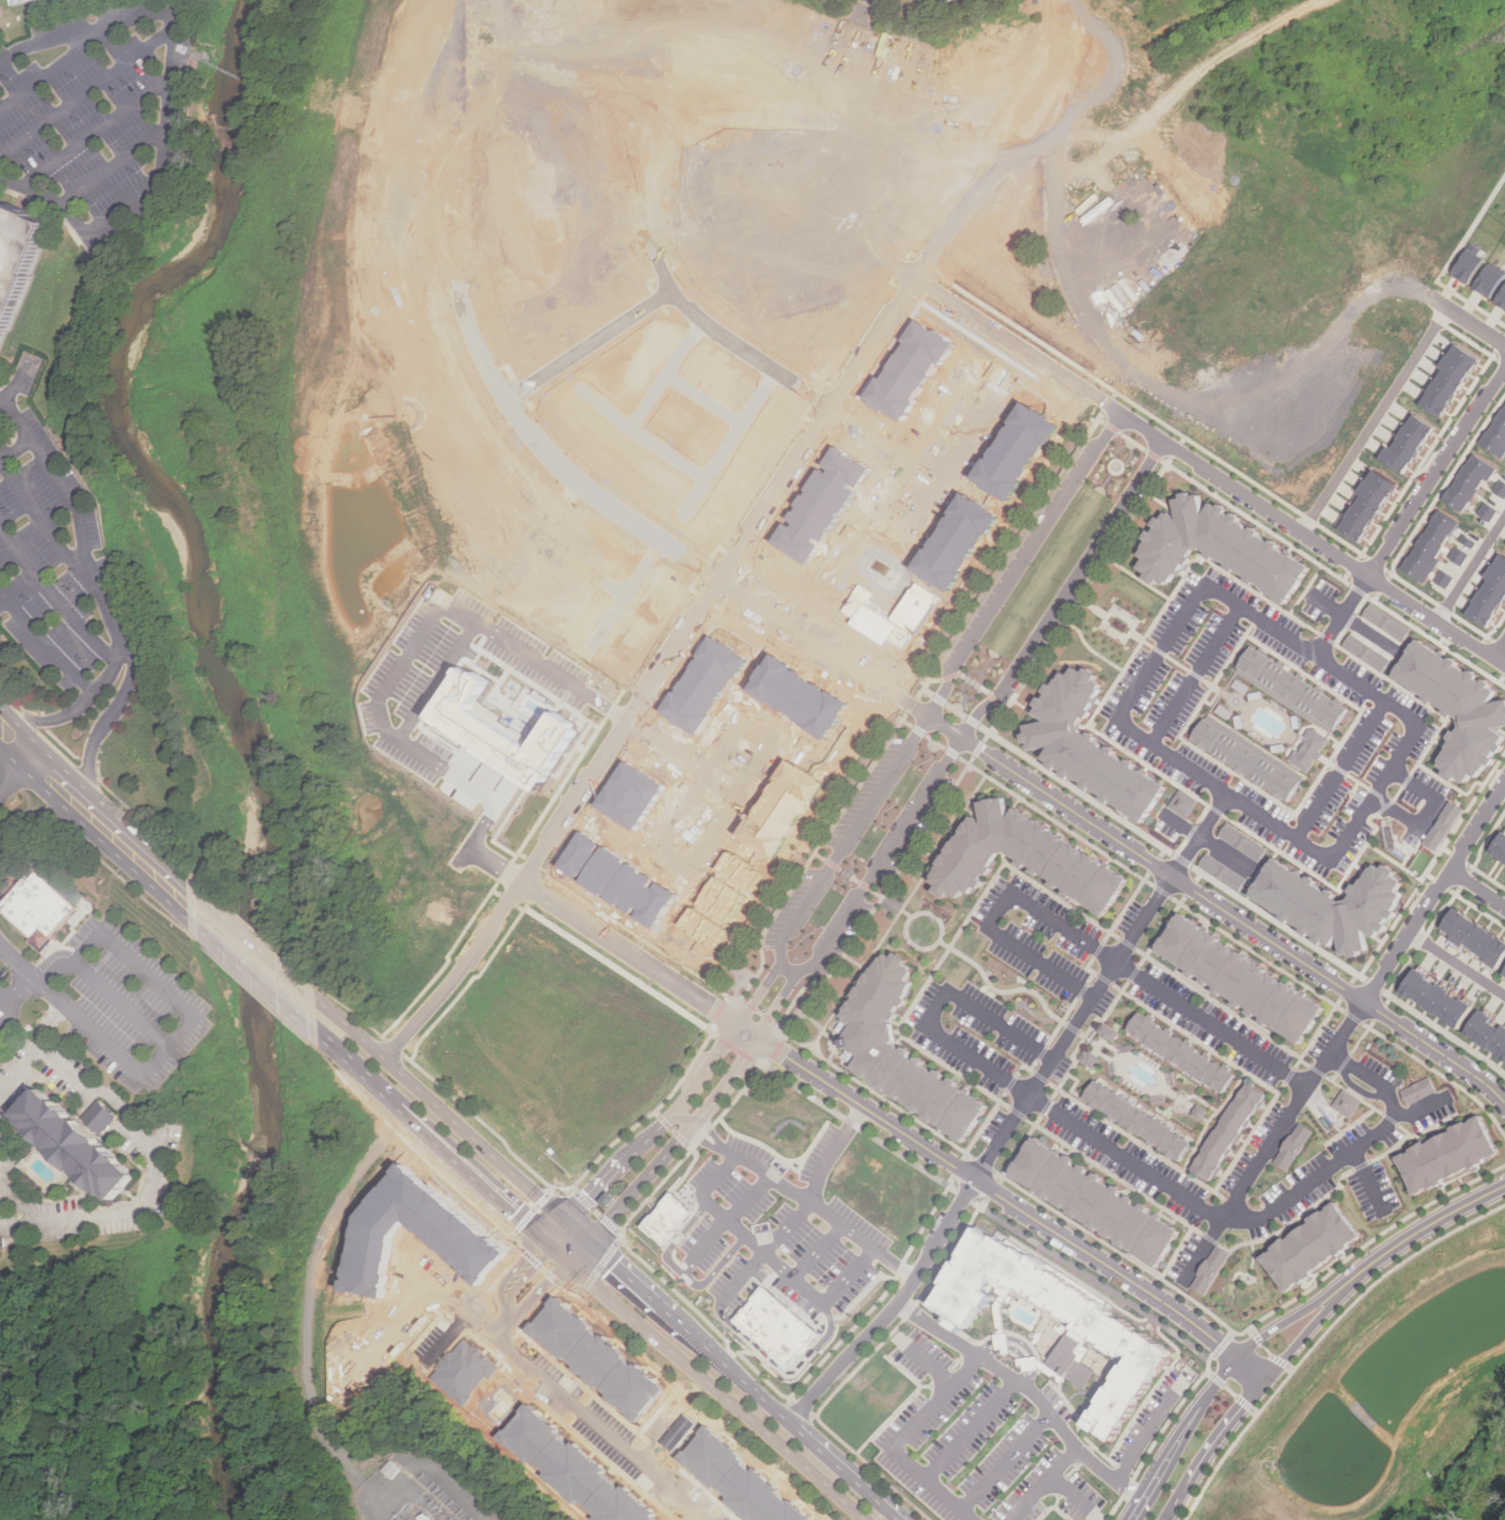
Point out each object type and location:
building: (20, 2)
parking garage: (20, 2)
road: (1065, 10)
road: (61, 37)
road: (87, 92)
road: (176, 99)
road: (100, 126)
road: (119, 162)
river: (217, 201)
road: (1466, 238)
building: (15, 251)
building: (1470, 264)
building: (1491, 280)
building: (1502, 299)
road: (1466, 324)
road: (544, 368)
building: (912, 369)
building: (1452, 379)
road: (1373, 422)
building: (1497, 436)
building: (1411, 443)
road: (17, 448)
road: (1177, 451)
road: (1157, 457)
road: (1180, 472)
road: (1435, 473)
road: (1214, 476)
building: (1471, 483)
building: (1501, 487)
building: (824, 505)
building: (1370, 507)
building: (1490, 511)
road: (43, 520)
road: (83, 523)
building: (1471, 541)
building: (1434, 545)
building: (1220, 548)
building: (1461, 555)
road: (1022, 563)
road: (1470, 567)
road: (1352, 568)
building: (1446, 579)
road: (1358, 588)
road: (1307, 589)
road: (1067, 593)
road: (53, 594)
building: (1491, 599)
road: (1285, 608)
road: (1119, 611)
building: (869, 614)
road: (1342, 614)
building: (1387, 622)
road: (1114, 630)
river: (191, 639)
road: (48, 640)
road: (1049, 644)
road: (1309, 645)
road: (1090, 648)
road: (1499, 649)
road: (825, 653)
building: (1367, 653)
road: (1184, 663)
road: (1198, 669)
road: (395, 671)
road: (1308, 675)
road: (660, 677)
road: (437, 681)
building: (1293, 690)
road: (995, 703)
road: (75, 708)
building: (1459, 708)
road: (972, 720)
building: (498, 722)
road: (946, 726)
road: (100, 728)
road: (1115, 742)
road: (981, 746)
building: (1090, 747)
building: (1310, 751)
building: (1247, 760)
road: (1344, 764)
road: (39, 766)
road: (1423, 768)
building: (492, 771)
road: (11, 774)
road: (1248, 782)
road: (1448, 783)
road: (737, 786)
road: (1086, 795)
road: (1374, 795)
building: (1184, 803)
road: (84, 806)
road: (1218, 810)
road: (38, 814)
road: (1433, 814)
building: (1443, 825)
road: (1193, 829)
road: (851, 838)
road: (1205, 841)
building: (1243, 842)
road: (125, 845)
building: (1501, 848)
road: (883, 858)
building: (1028, 858)
road: (1157, 860)
road: (1184, 860)
road: (1163, 870)
building: (1223, 872)
road: (1174, 875)
building: (619, 879)
road: (1478, 887)
road: (873, 891)
road: (187, 892)
building: (76, 894)
road: (1434, 896)
road: (515, 902)
road: (179, 903)
building: (1332, 905)
road: (522, 906)
building: (36, 907)
road: (1047, 918)
road: (907, 934)
building: (1476, 937)
road: (270, 954)
road: (1042, 961)
road: (1457, 964)
road: (21, 966)
road: (791, 969)
road: (621, 971)
road: (254, 976)
building: (1243, 979)
road: (1006, 991)
road: (16, 994)
building: (1439, 999)
road: (123, 1003)
road: (195, 1019)
river: (242, 1023)
road: (1212, 1024)
road: (1000, 1025)
road: (748, 1032)
building: (1109, 1032)
building: (1489, 1032)
road: (737, 1046)
building: (901, 1050)
road: (1436, 1051)
building: (1183, 1052)
road: (42, 1053)
building: (1091, 1059)
road: (1046, 1069)
road: (71, 1079)
building: (1418, 1090)
road: (685, 1101)
building: (1347, 1103)
road: (1422, 1106)
road: (703, 1115)
road: (105, 1116)
road: (686, 1118)
building: (1139, 1119)
road: (459, 1125)
road: (857, 1125)
road: (714, 1129)
building: (1228, 1131)
road: (705, 1139)
road: (445, 1140)
road: (1269, 1142)
building: (84, 1145)
building: (1294, 1146)
building: (1448, 1155)
road: (1368, 1183)
road: (1182, 1195)
road: (964, 1196)
building: (610, 1199)
building: (1094, 1200)
road: (819, 1209)
road: (805, 1210)
road: (128, 1211)
road: (732, 1218)
building: (670, 1219)
traffic signals: (569, 1223)
road: (1415, 1234)
traffic signals: (591, 1243)
traffic signals: (557, 1245)
building: (1310, 1246)
road: (821, 1253)
road: (773, 1255)
traffic signals: (572, 1260)
building: (1208, 1269)
road: (690, 1270)
road: (683, 1272)
road: (1122, 1276)
road: (1089, 1278)
road: (635, 1284)
road: (315, 1288)
road: (523, 1298)
road: (892, 1307)
road: (509, 1315)
road: (995, 1320)
river: (220, 1326)
building: (782, 1328)
building: (1108, 1333)
road: (1320, 1336)
road: (1254, 1338)
road: (1016, 1343)
road: (1010, 1350)
road: (1213, 1350)
road: (523, 1355)
building: (597, 1358)
road: (924, 1360)
road: (1042, 1368)
road: (785, 1369)
road: (853, 1371)
building: (465, 1372)
road: (733, 1372)
road: (1207, 1373)
road: (719, 1389)
road: (1029, 1390)
road: (1230, 1392)
road: (1243, 1404)
road: (1254, 1411)
road: (1147, 1427)
road: (967, 1429)
building: (677, 1433)
road: (1156, 1435)
road: (896, 1437)
road: (1002, 1460)
road: (1164, 1463)
road: (843, 1470)
building: (575, 1471)
building: (739, 1481)
road: (1044, 1481)
park: (1486, 1490)
power substation: (416, 1493)
road: (1072, 1495)
road: (698, 1517)

